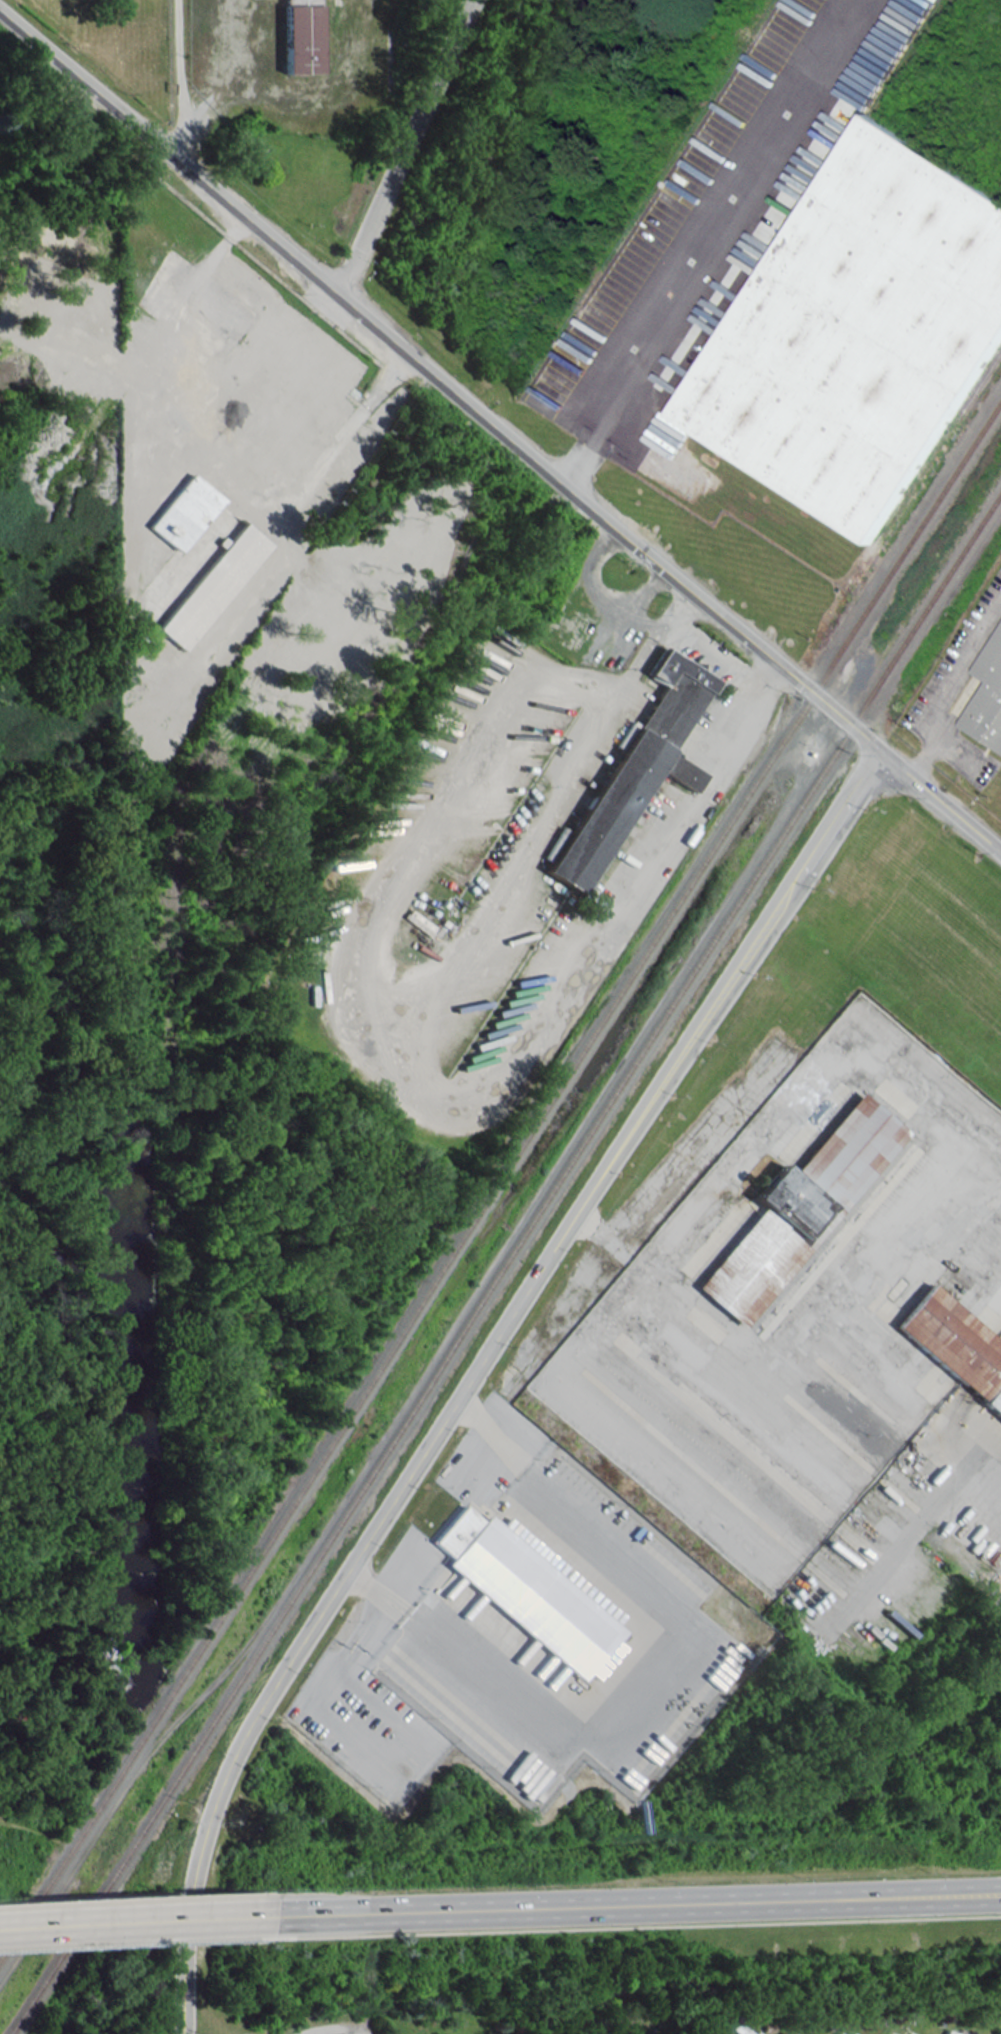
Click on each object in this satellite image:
building: (300, 36)
park: (112, 52)
road: (180, 64)
road: (186, 124)
road: (405, 147)
road: (665, 318)
building: (859, 331)
railway: (982, 380)
road: (500, 431)
road: (339, 437)
building: (185, 513)
road: (647, 586)
building: (211, 588)
road: (649, 615)
road: (654, 639)
building: (987, 697)
building: (638, 765)
road: (379, 912)
railway: (500, 1178)
building: (799, 1208)
railway: (504, 1263)
building: (955, 1345)
road: (476, 1372)
building: (526, 1592)
road: (626, 1905)
road: (126, 1922)
road: (333, 2028)

